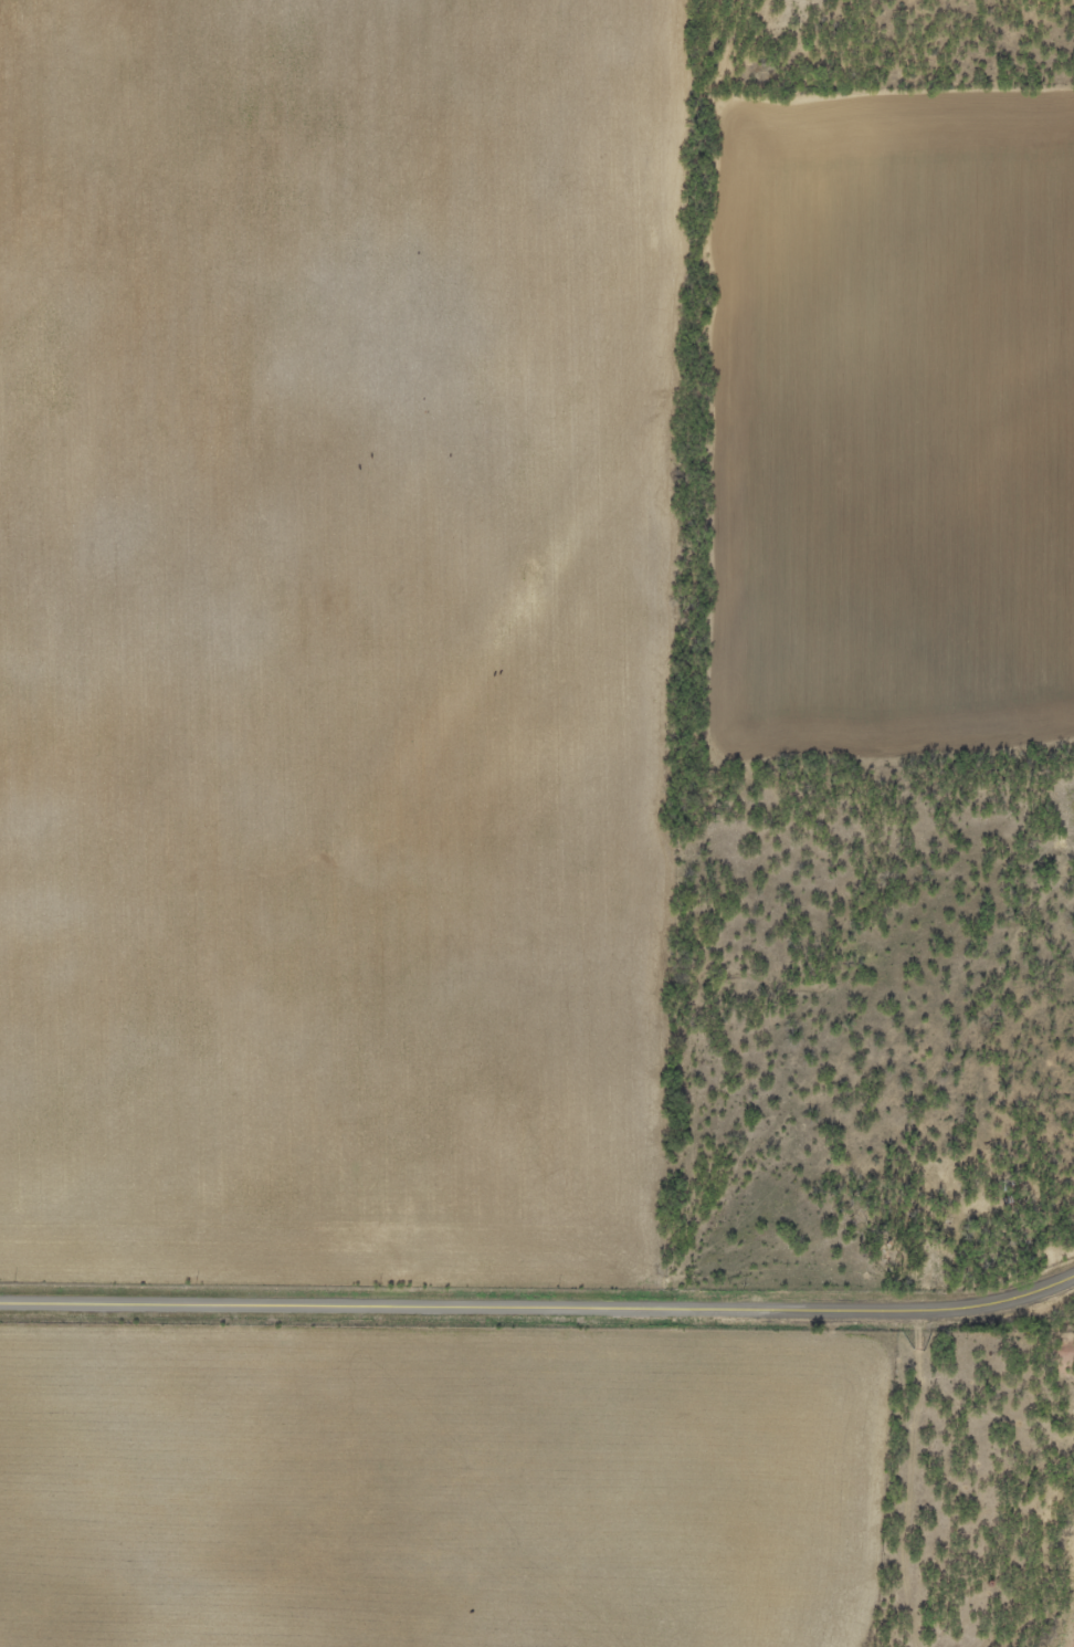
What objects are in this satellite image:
road: (539, 1309)

